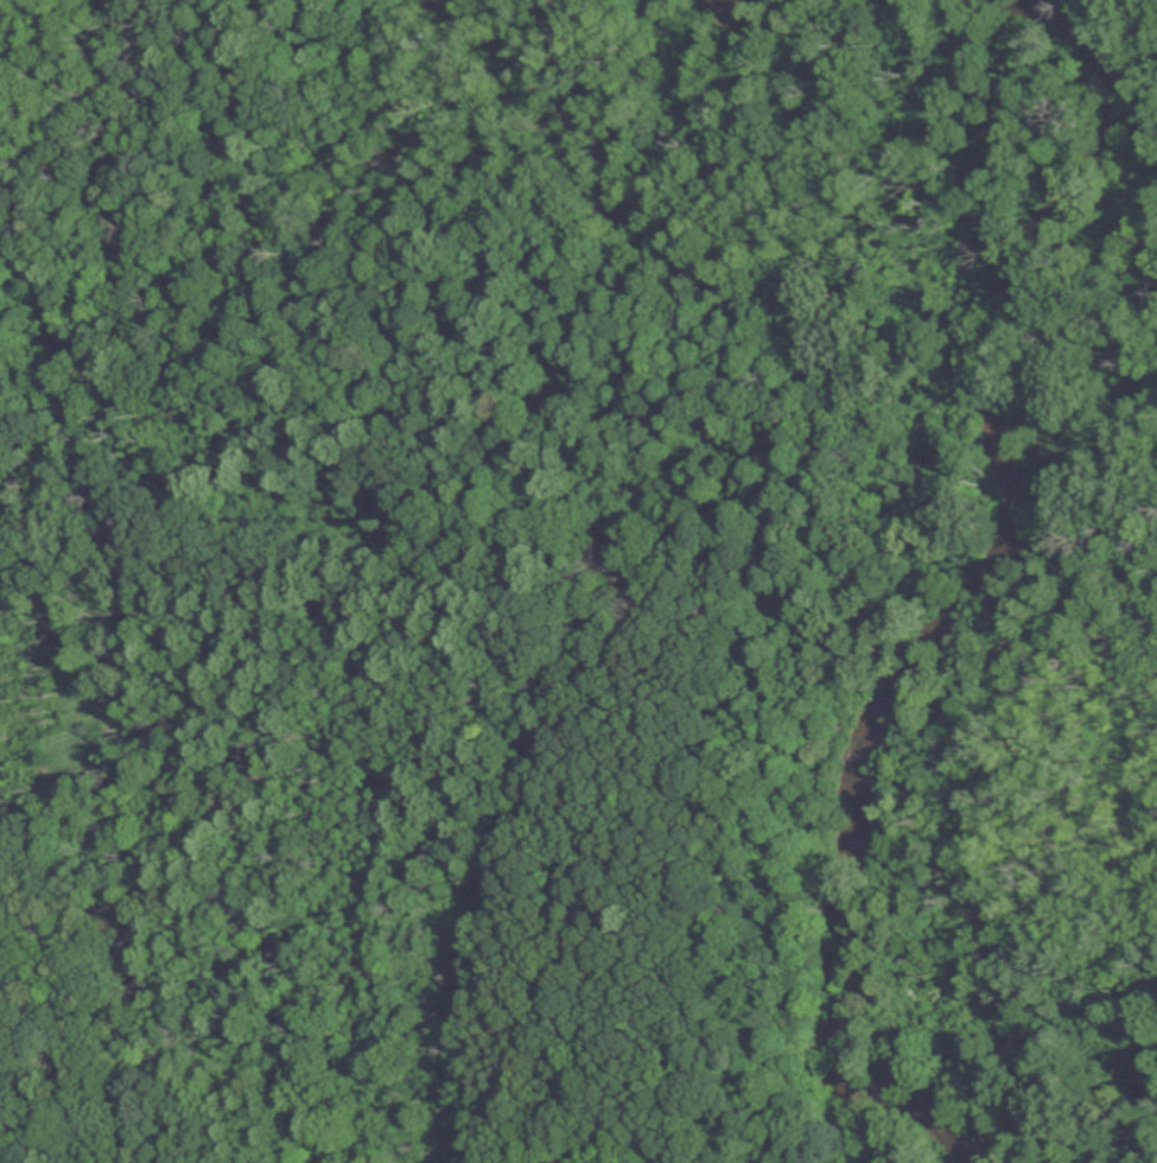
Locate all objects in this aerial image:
river: (974, 581)

